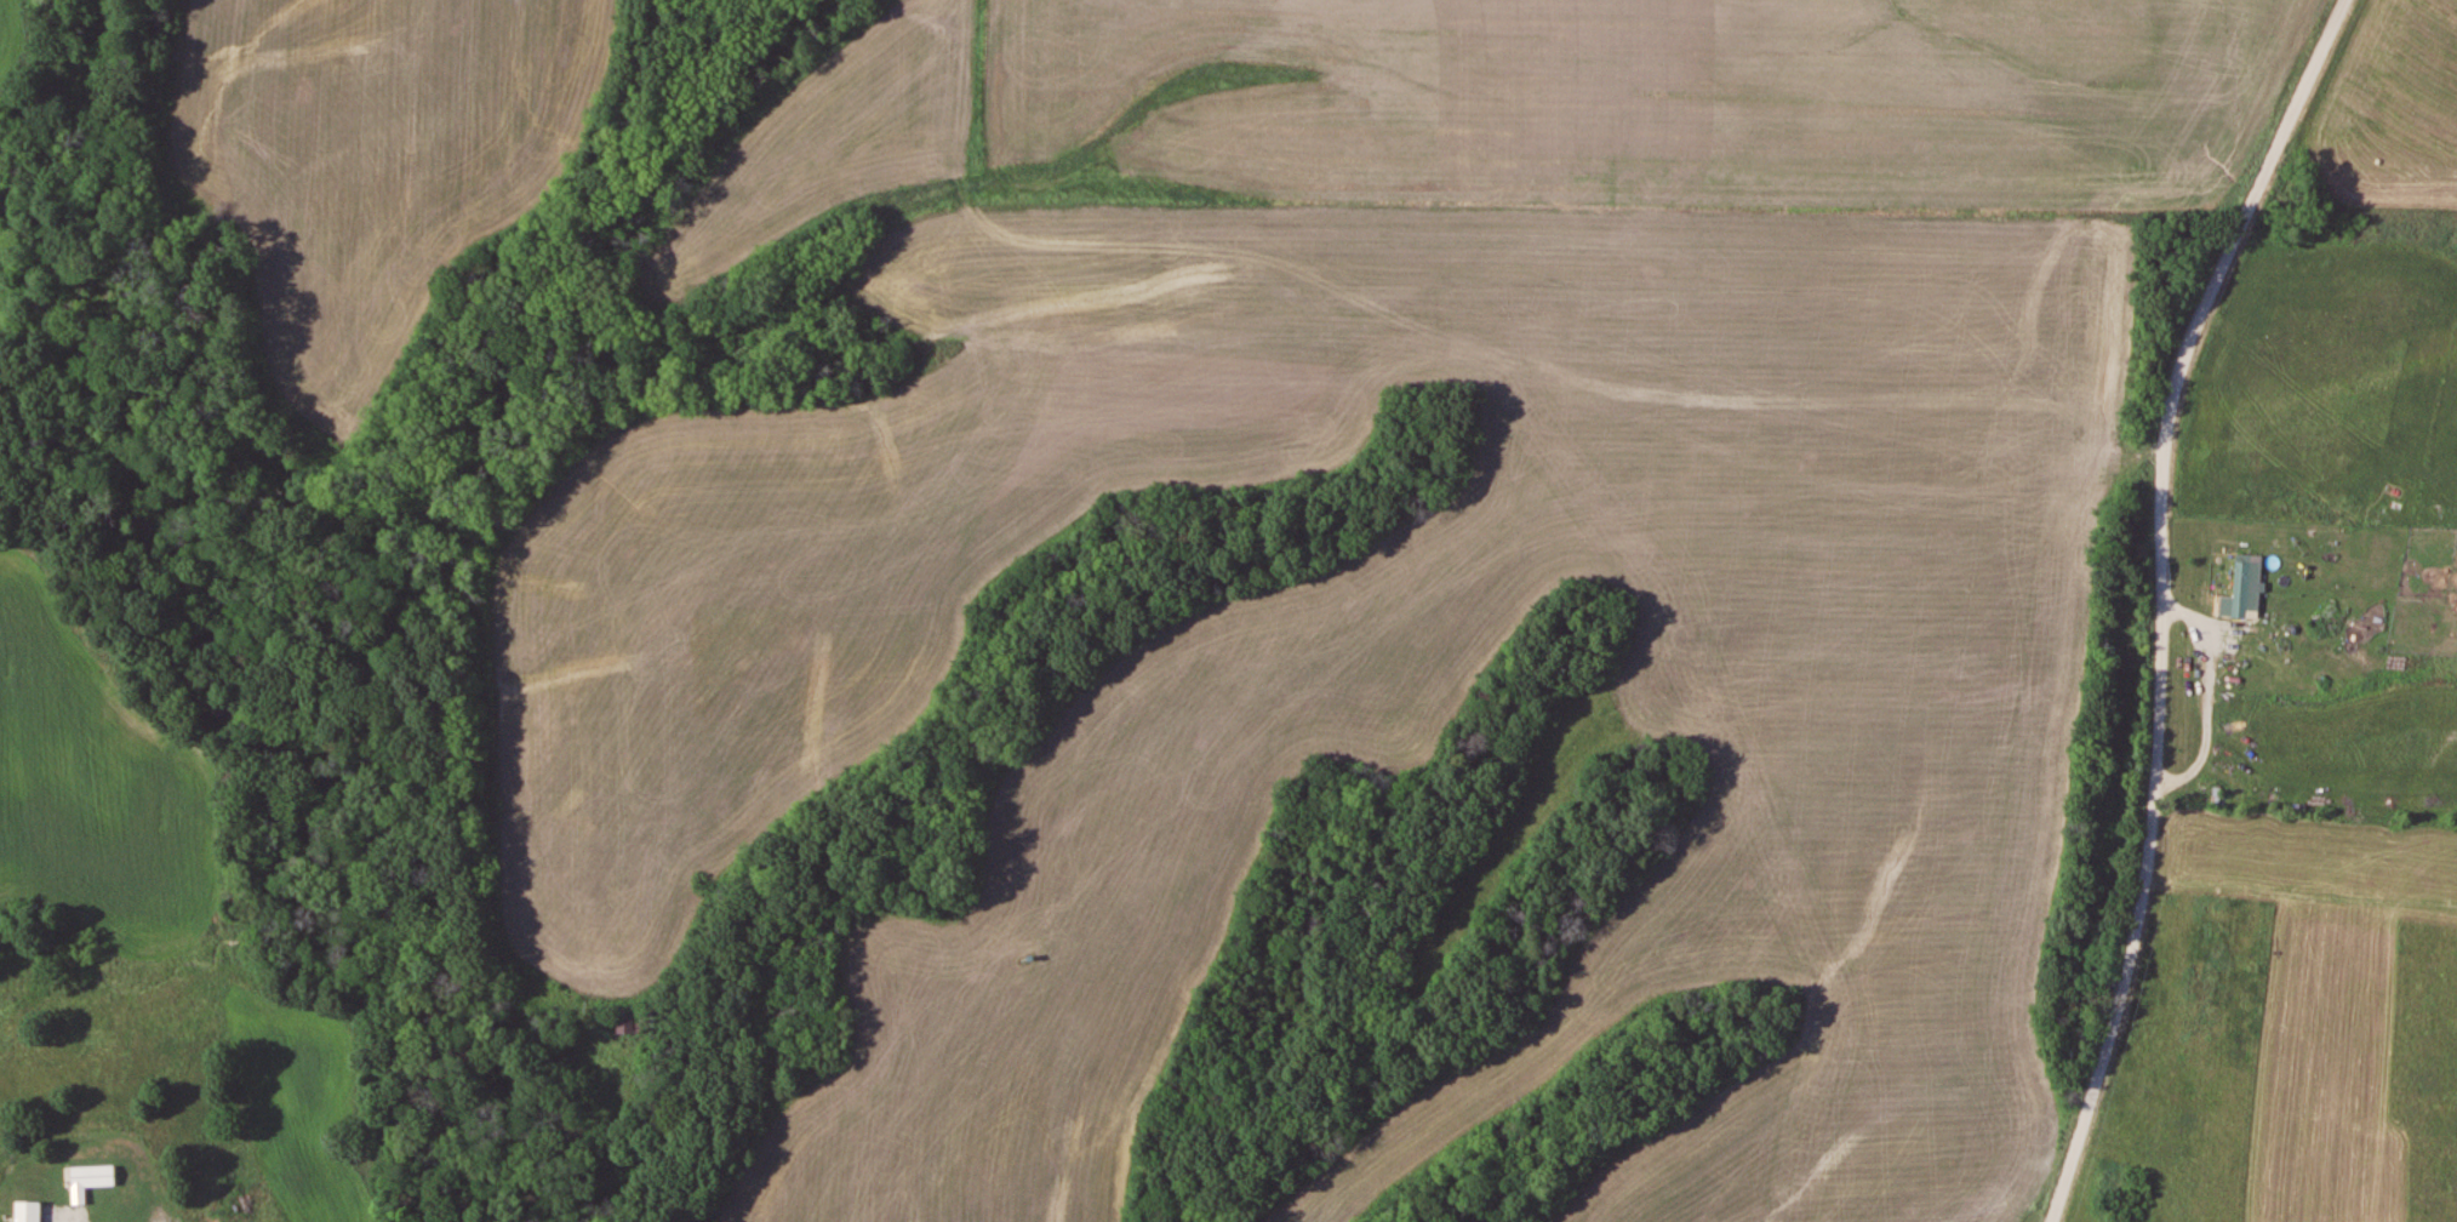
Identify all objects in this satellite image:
building: (2247, 586)
road: (2159, 598)
building: (622, 1021)
building: (29, 1211)

